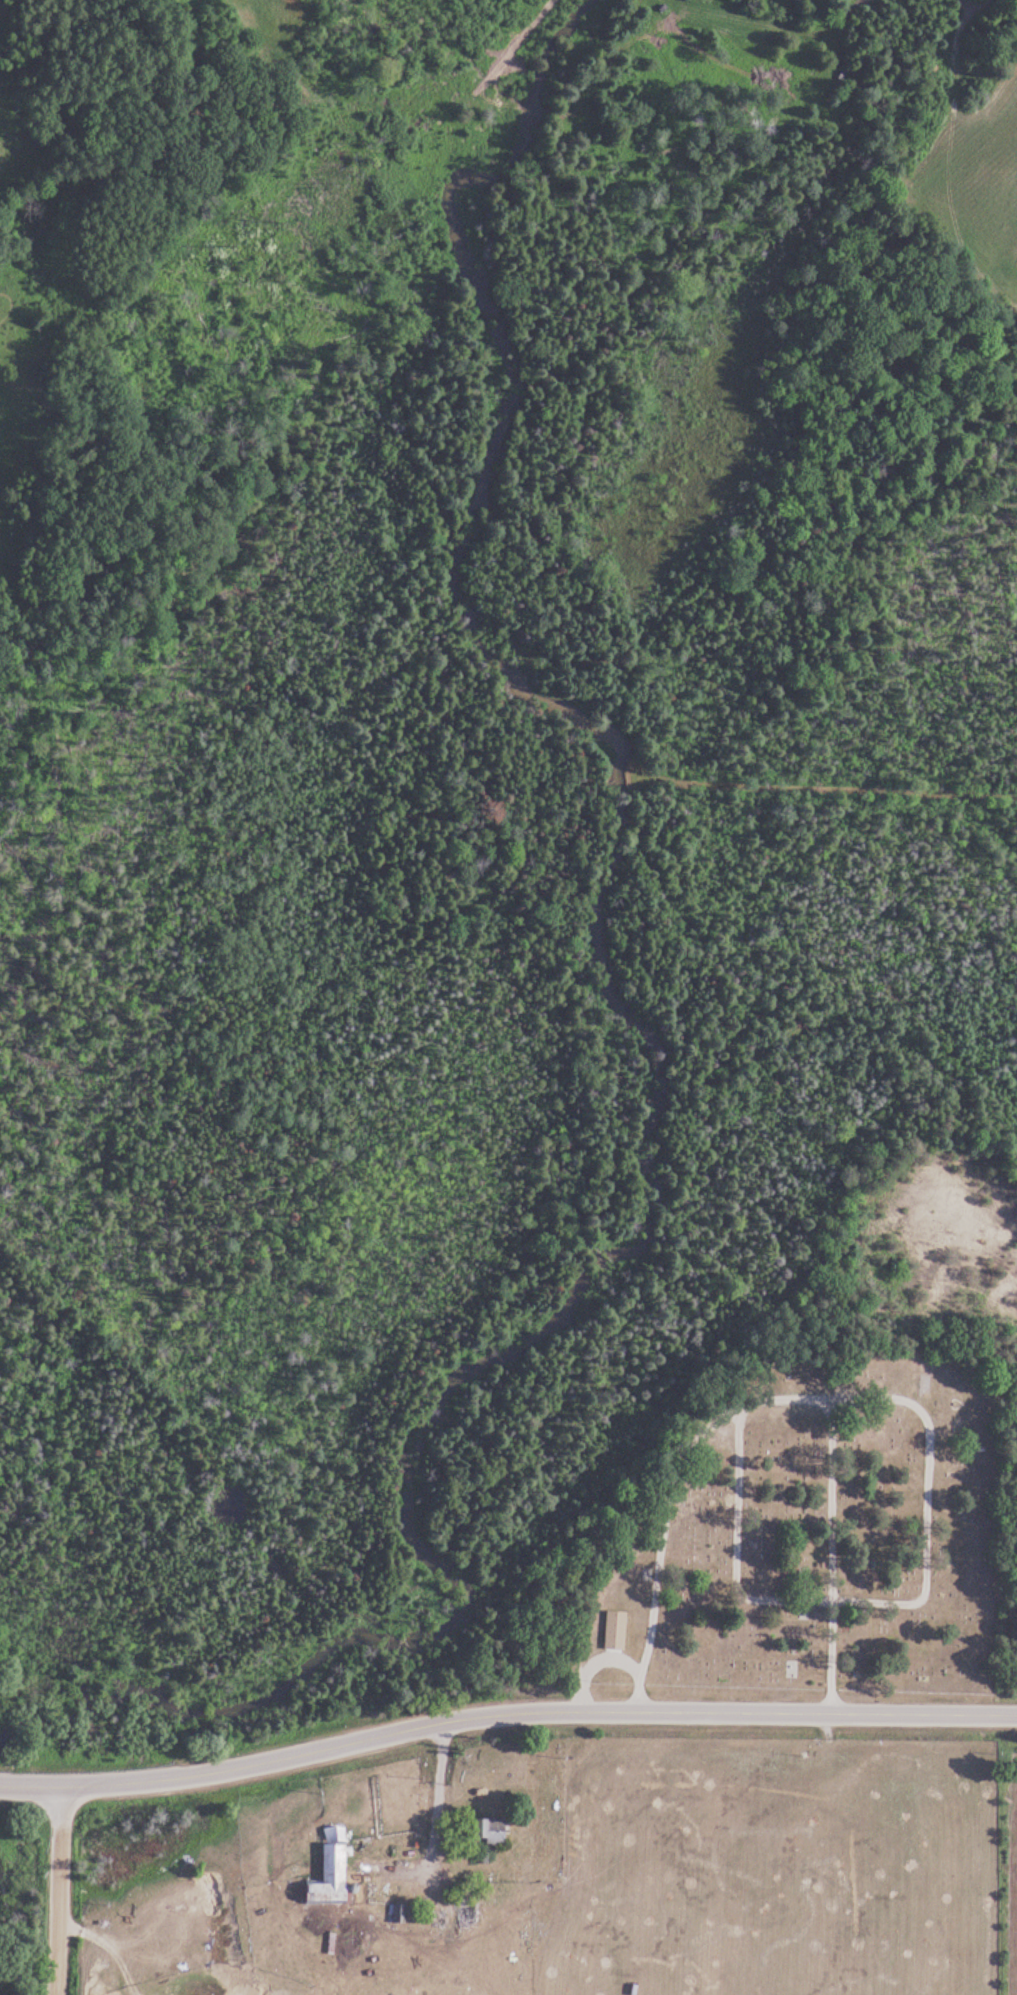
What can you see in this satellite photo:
river: (644, 1052)
park: (814, 1528)
building: (614, 1631)
road: (505, 1713)
building: (488, 1828)
building: (327, 1870)
road: (63, 1891)

